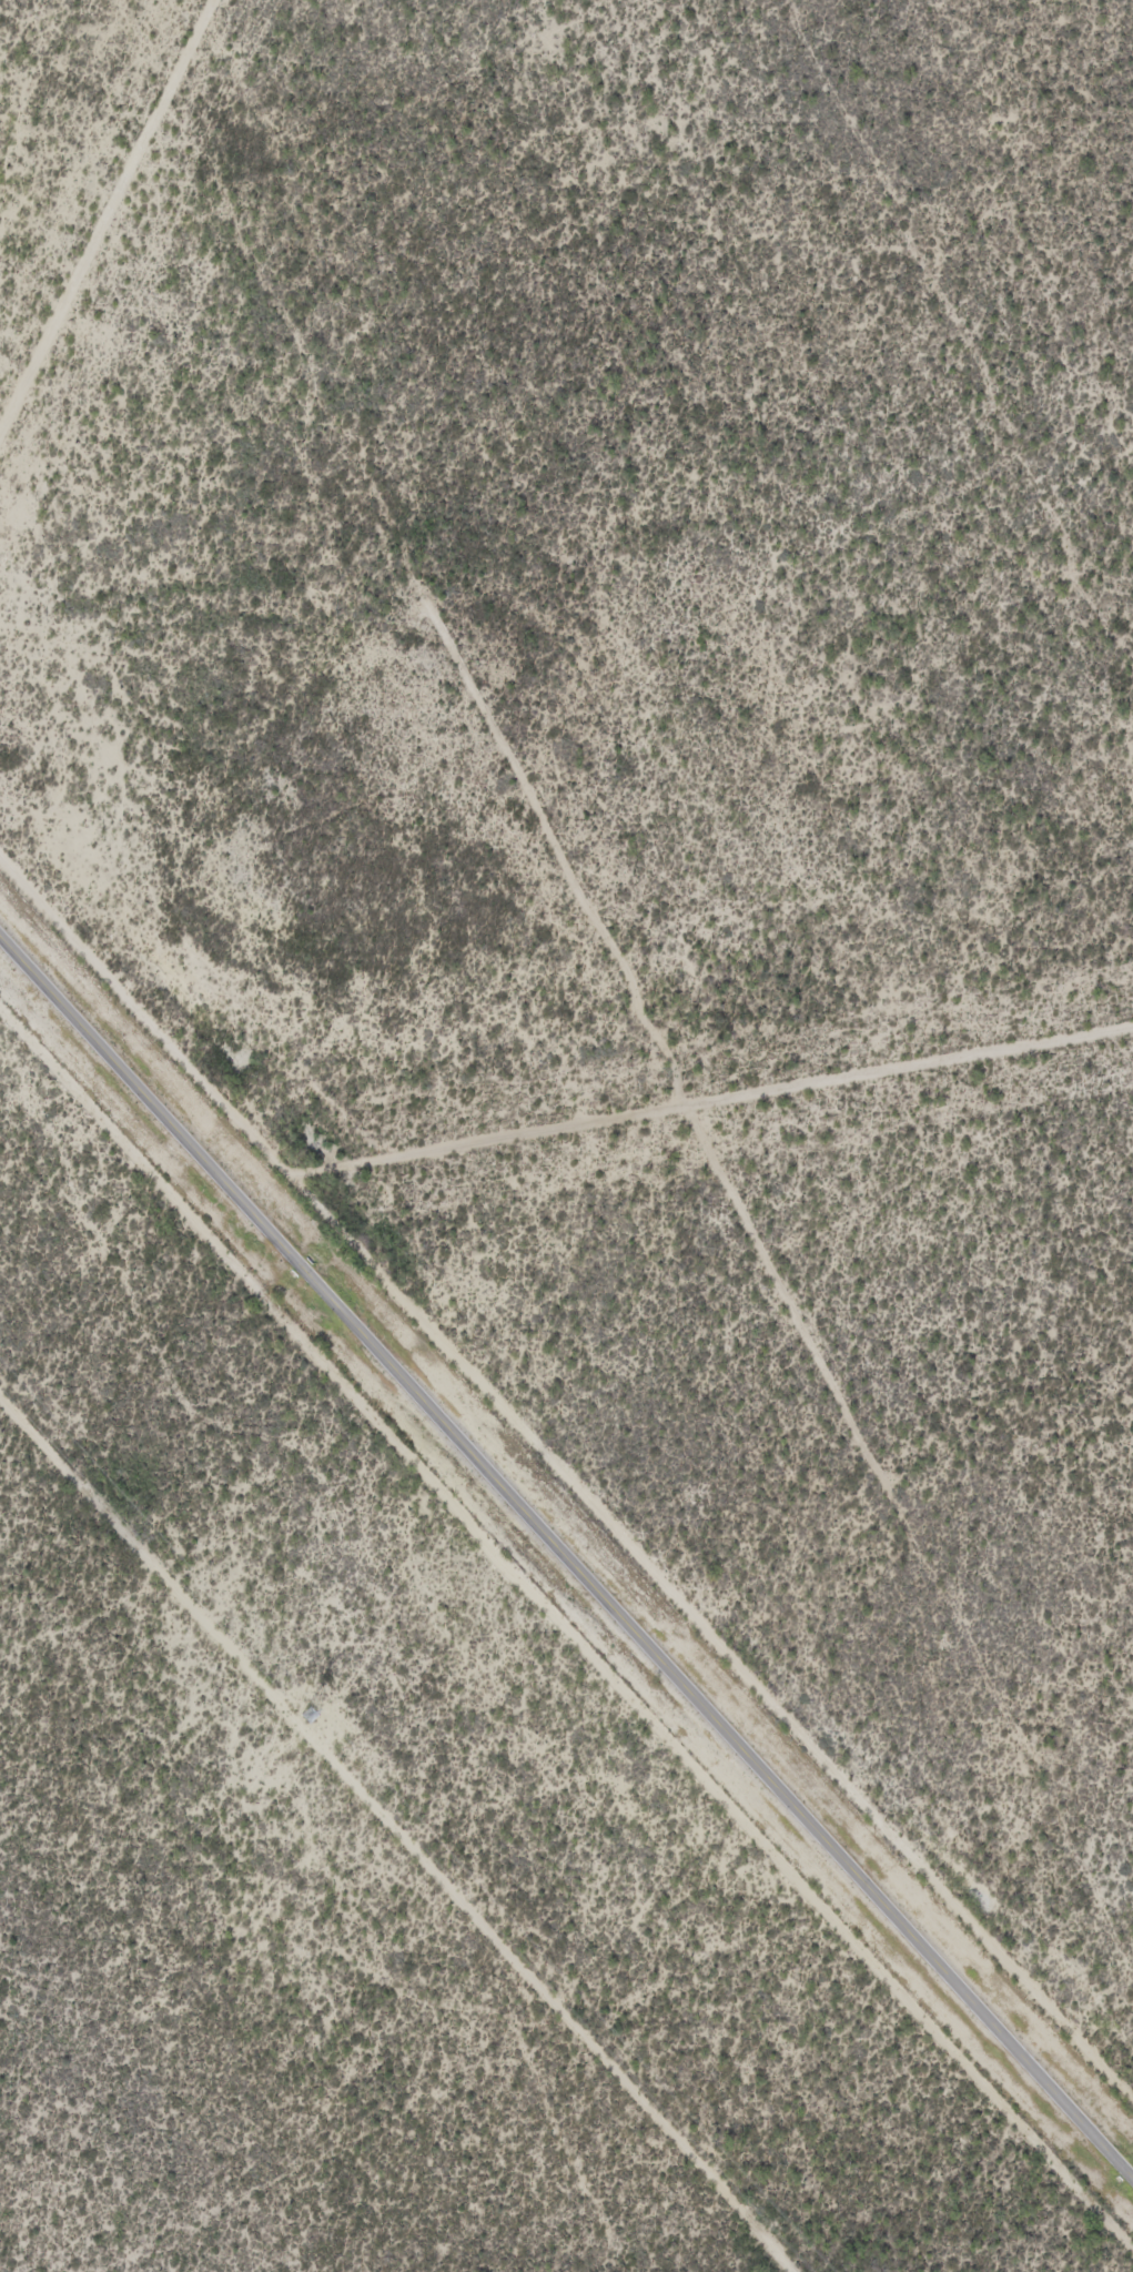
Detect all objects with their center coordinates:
power tower: (297, 1715)

